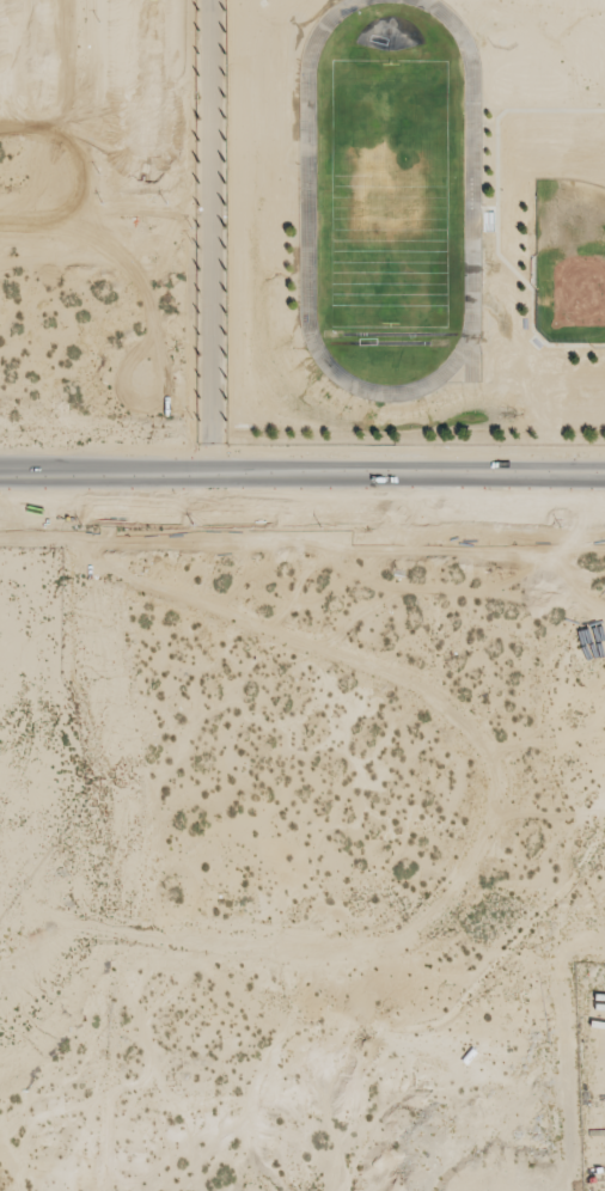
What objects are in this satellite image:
park: (390, 190)
track: (470, 195)
park: (569, 261)
road: (227, 475)
road: (530, 475)
road: (530, 482)
road: (416, 957)

